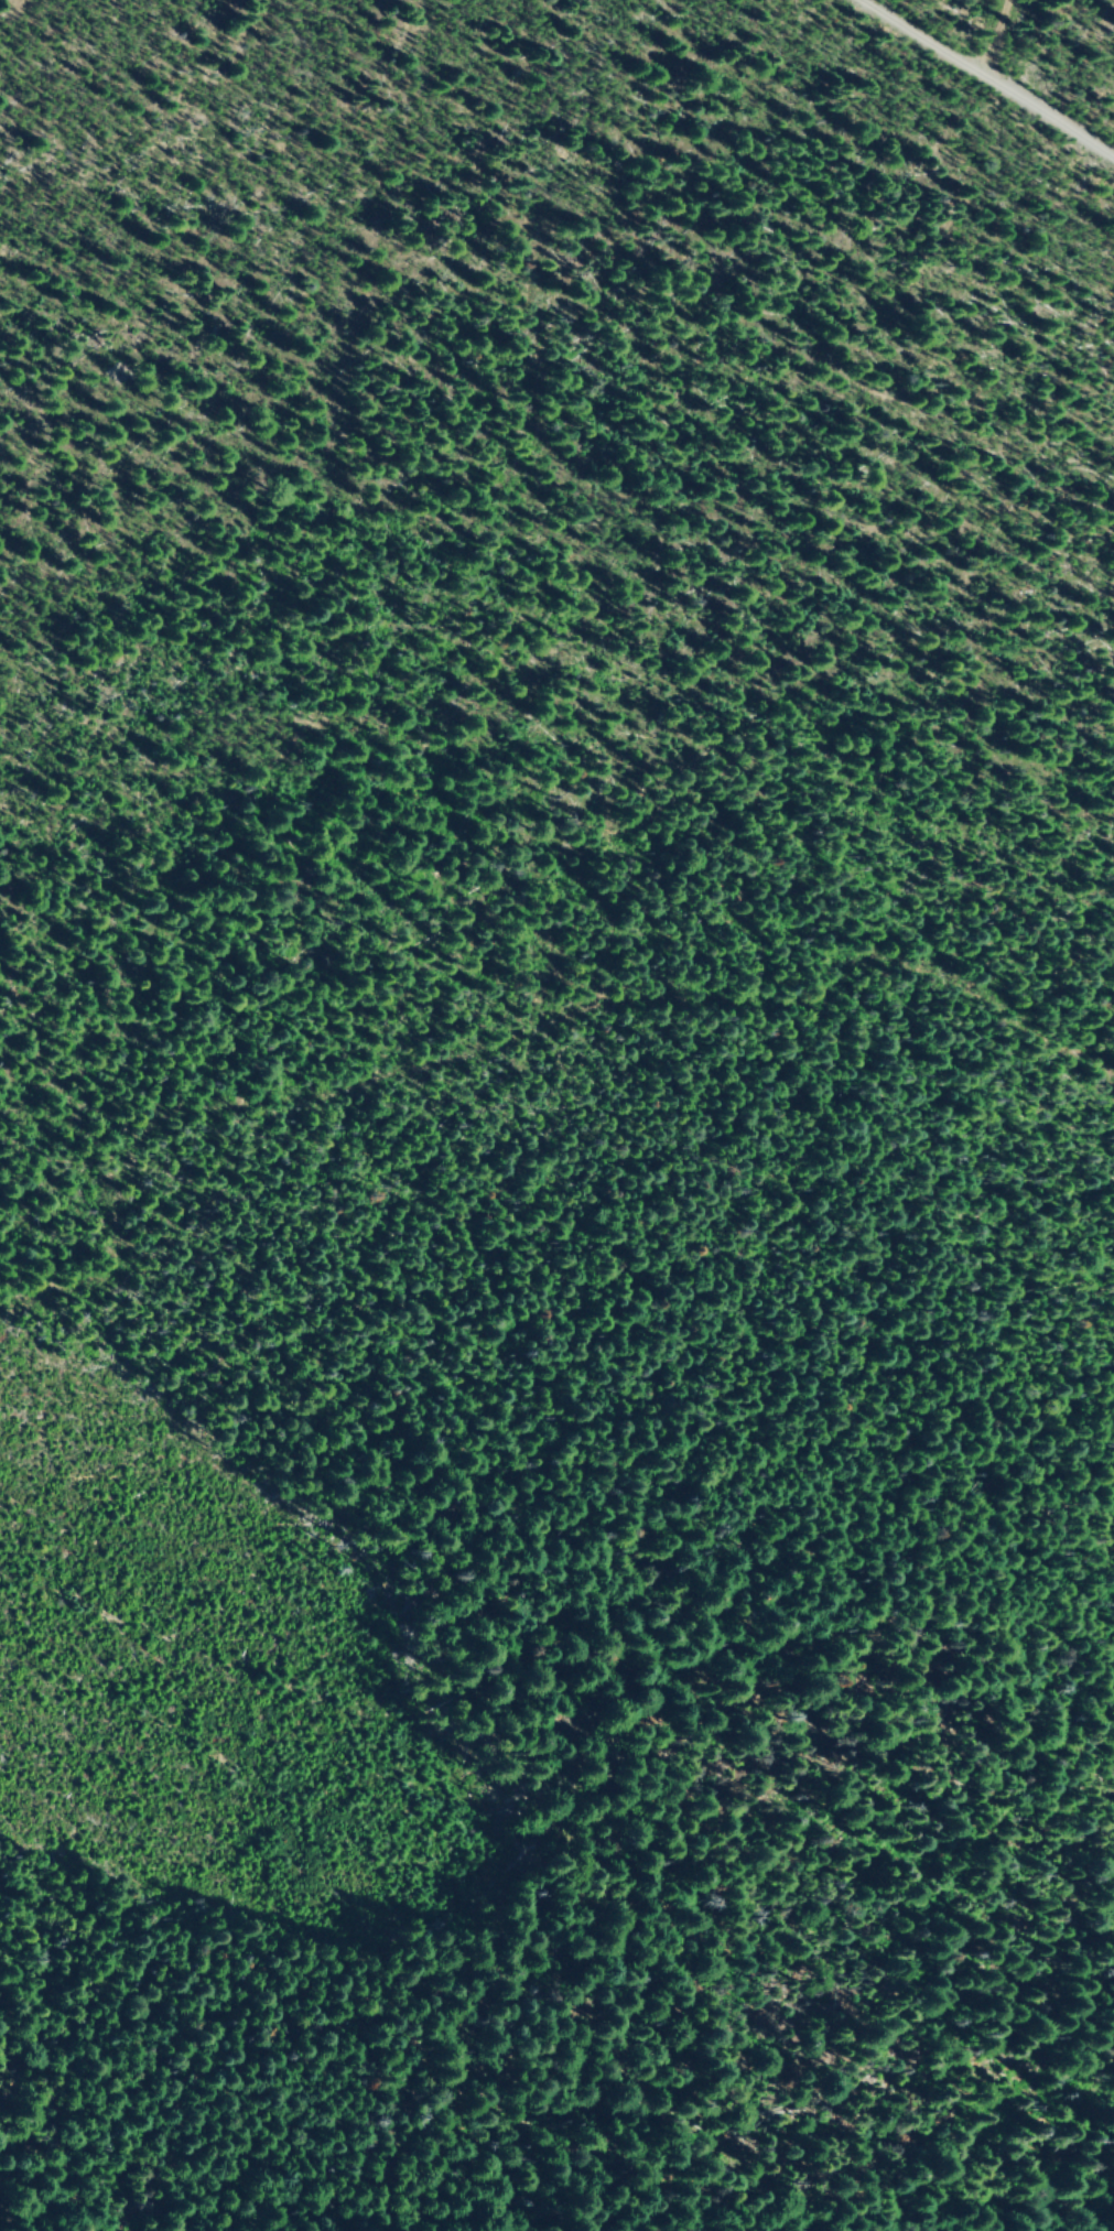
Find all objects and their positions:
road: (985, 75)

